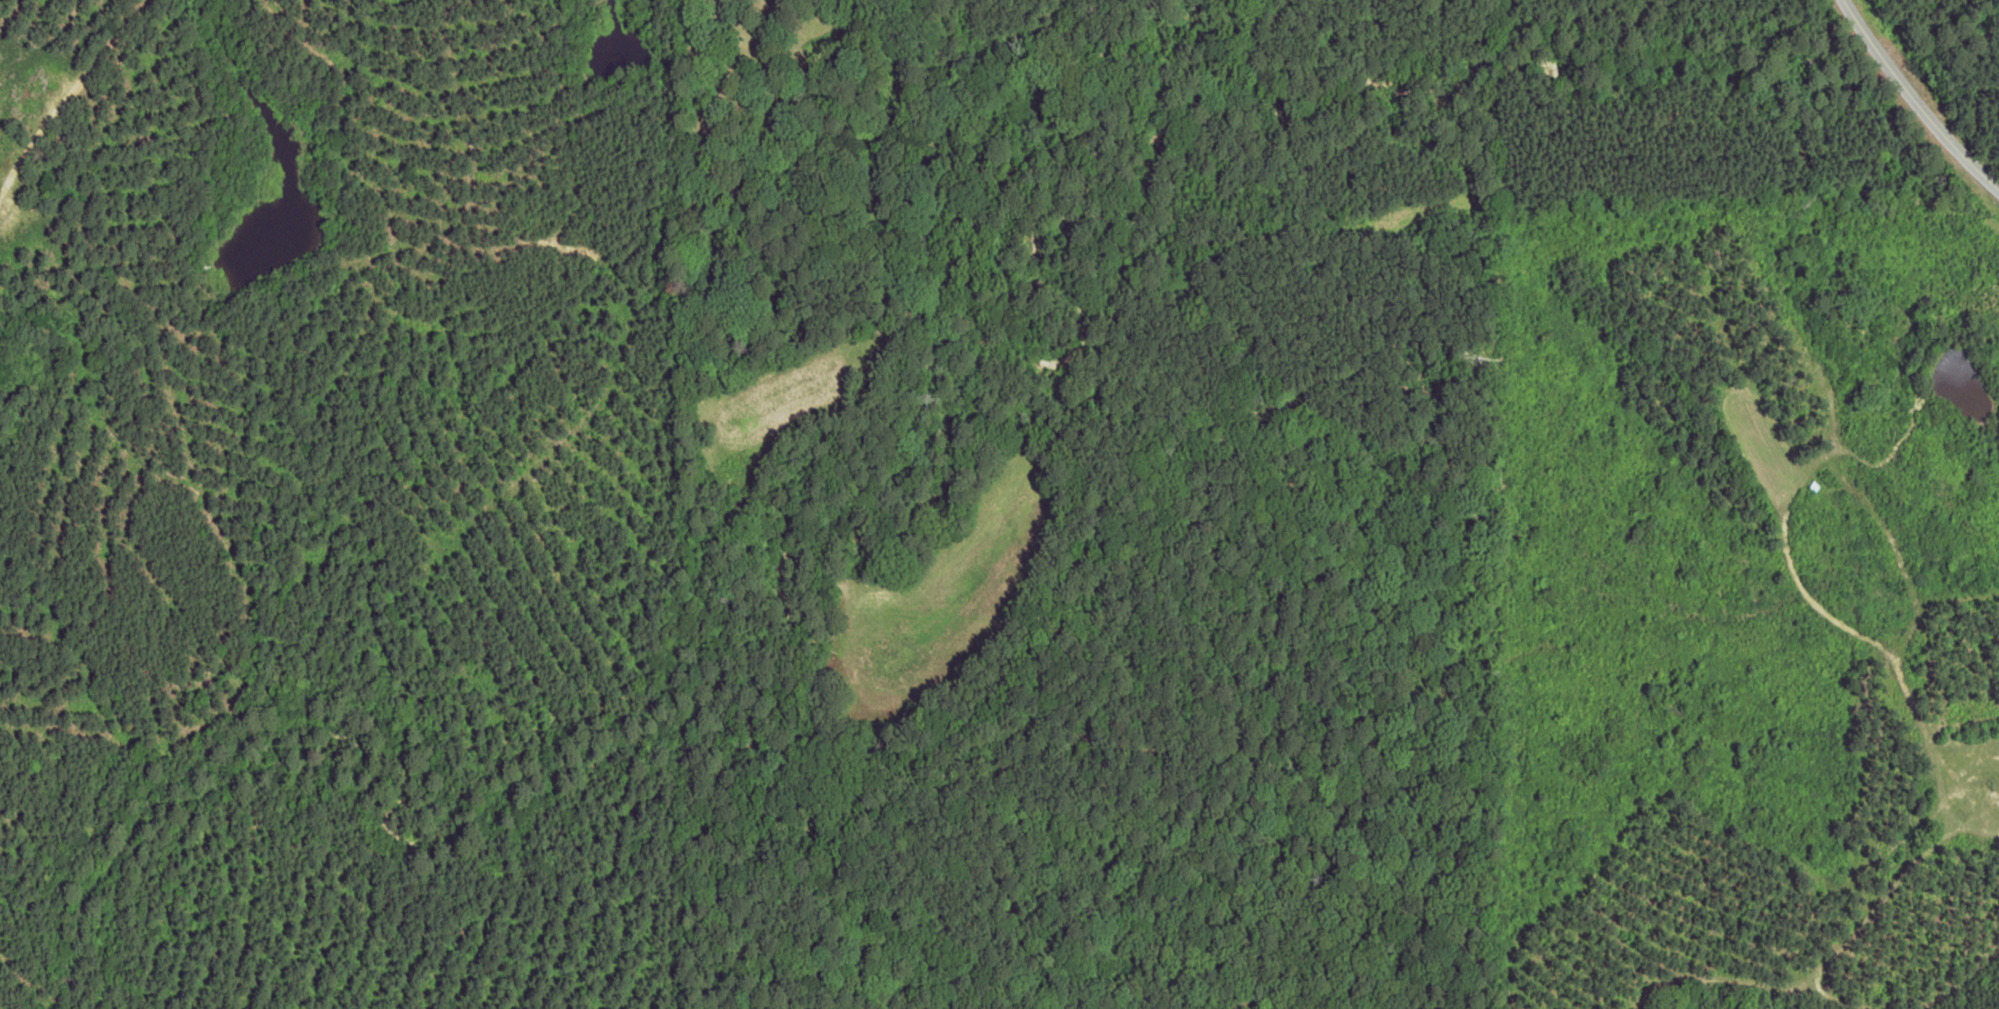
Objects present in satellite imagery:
road: (1906, 107)

